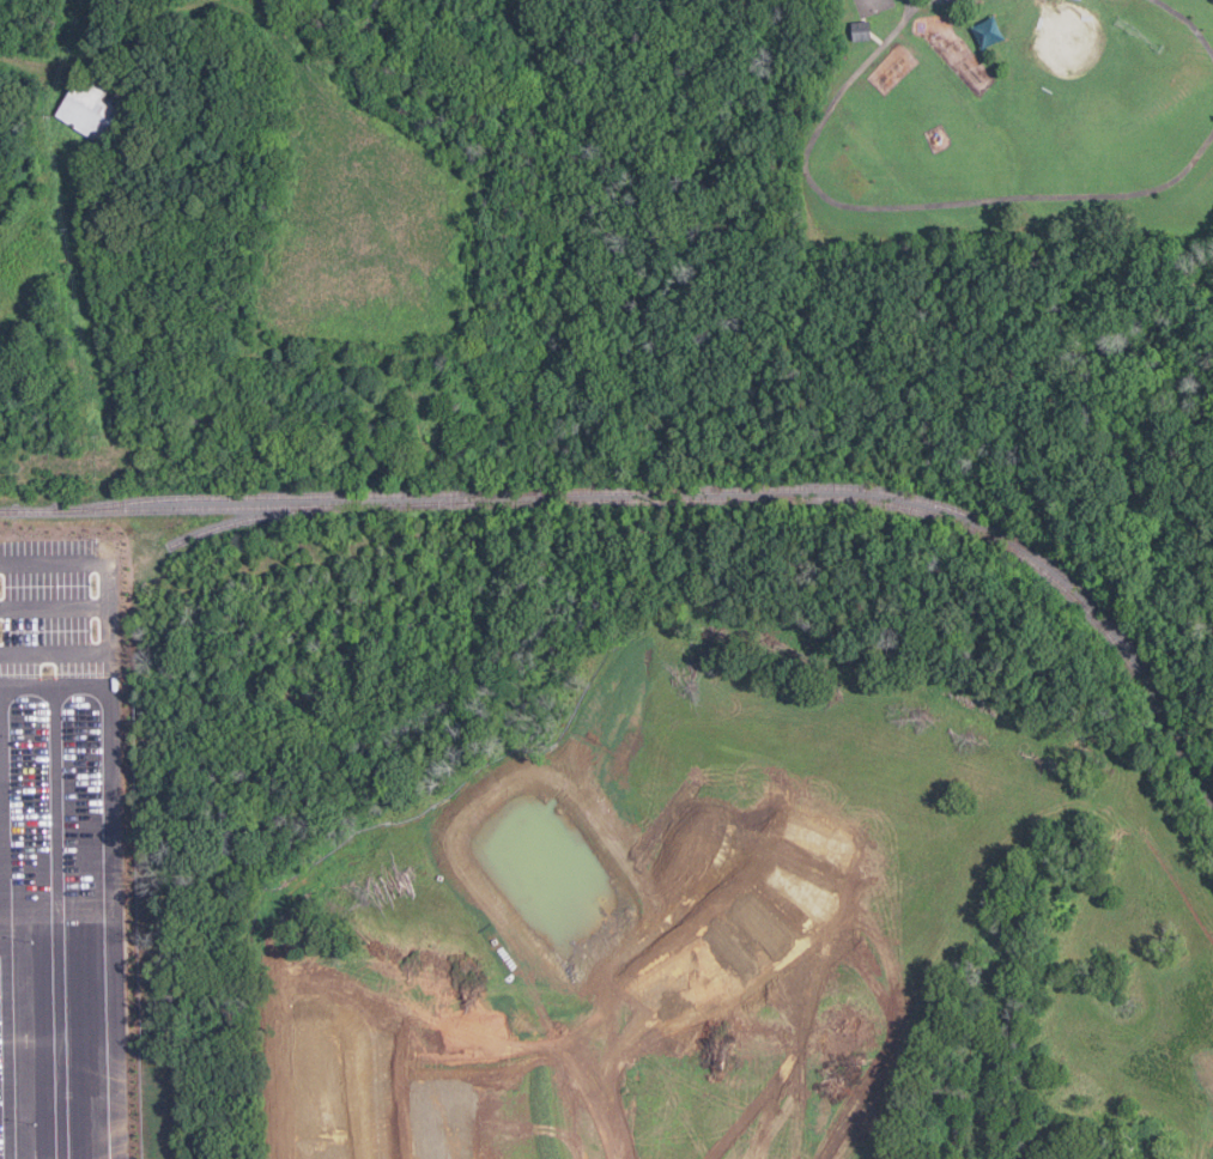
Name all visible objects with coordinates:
building: (861, 31)
building: (91, 107)
railway: (693, 489)
railway: (473, 497)
railway: (672, 499)
railway: (133, 565)
road: (377, 1076)

